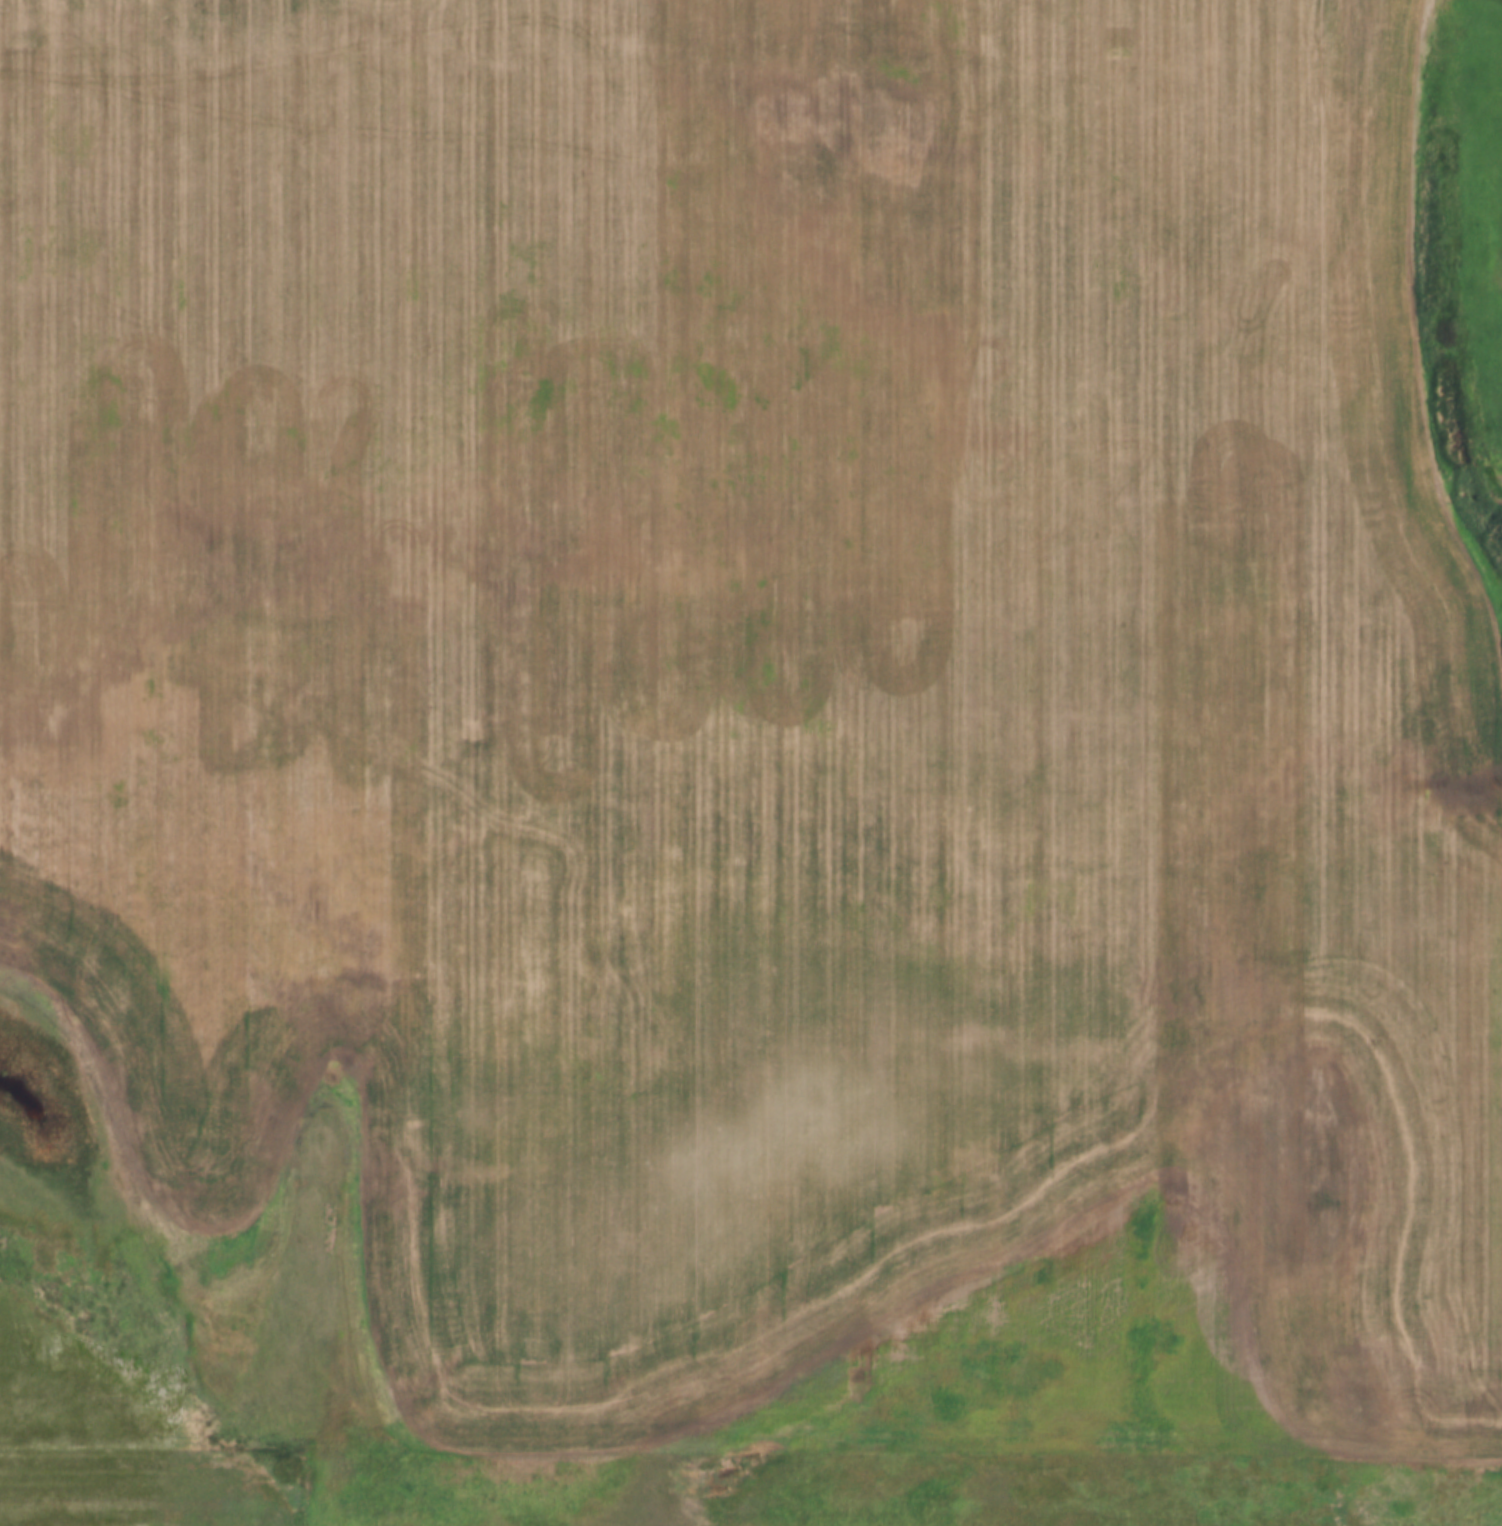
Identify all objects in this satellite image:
road: (1424, 299)
road: (1496, 668)

